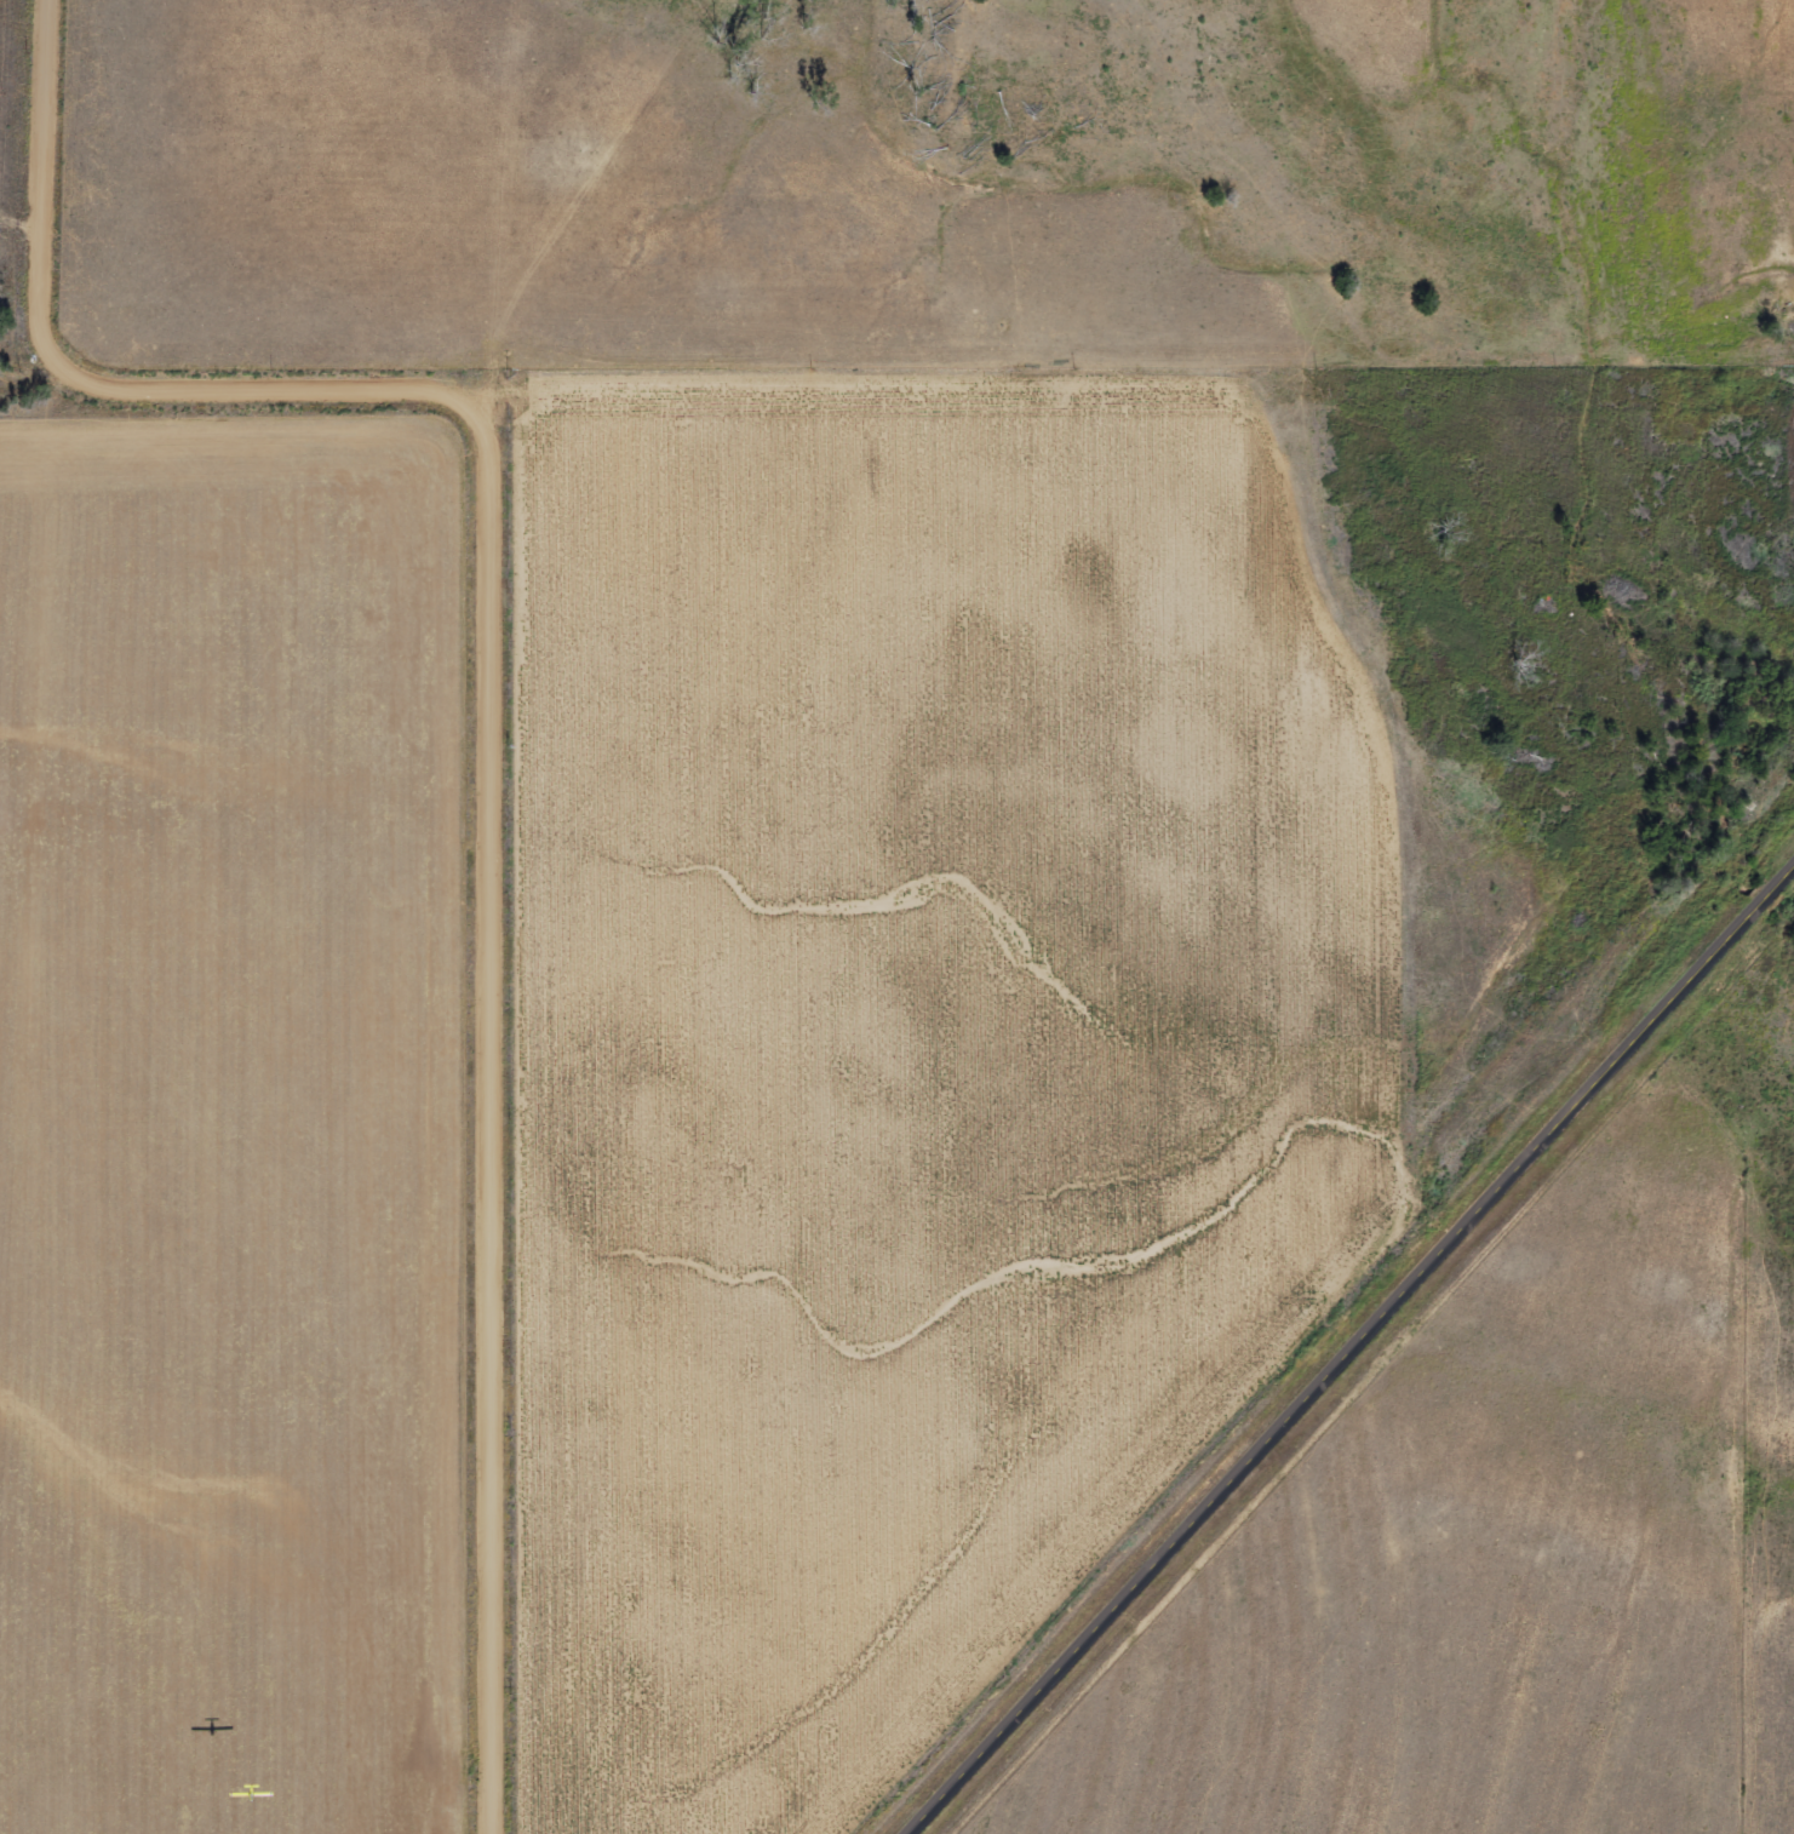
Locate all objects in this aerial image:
road: (489, 728)
railway: (1311, 1311)
road: (1354, 1353)

